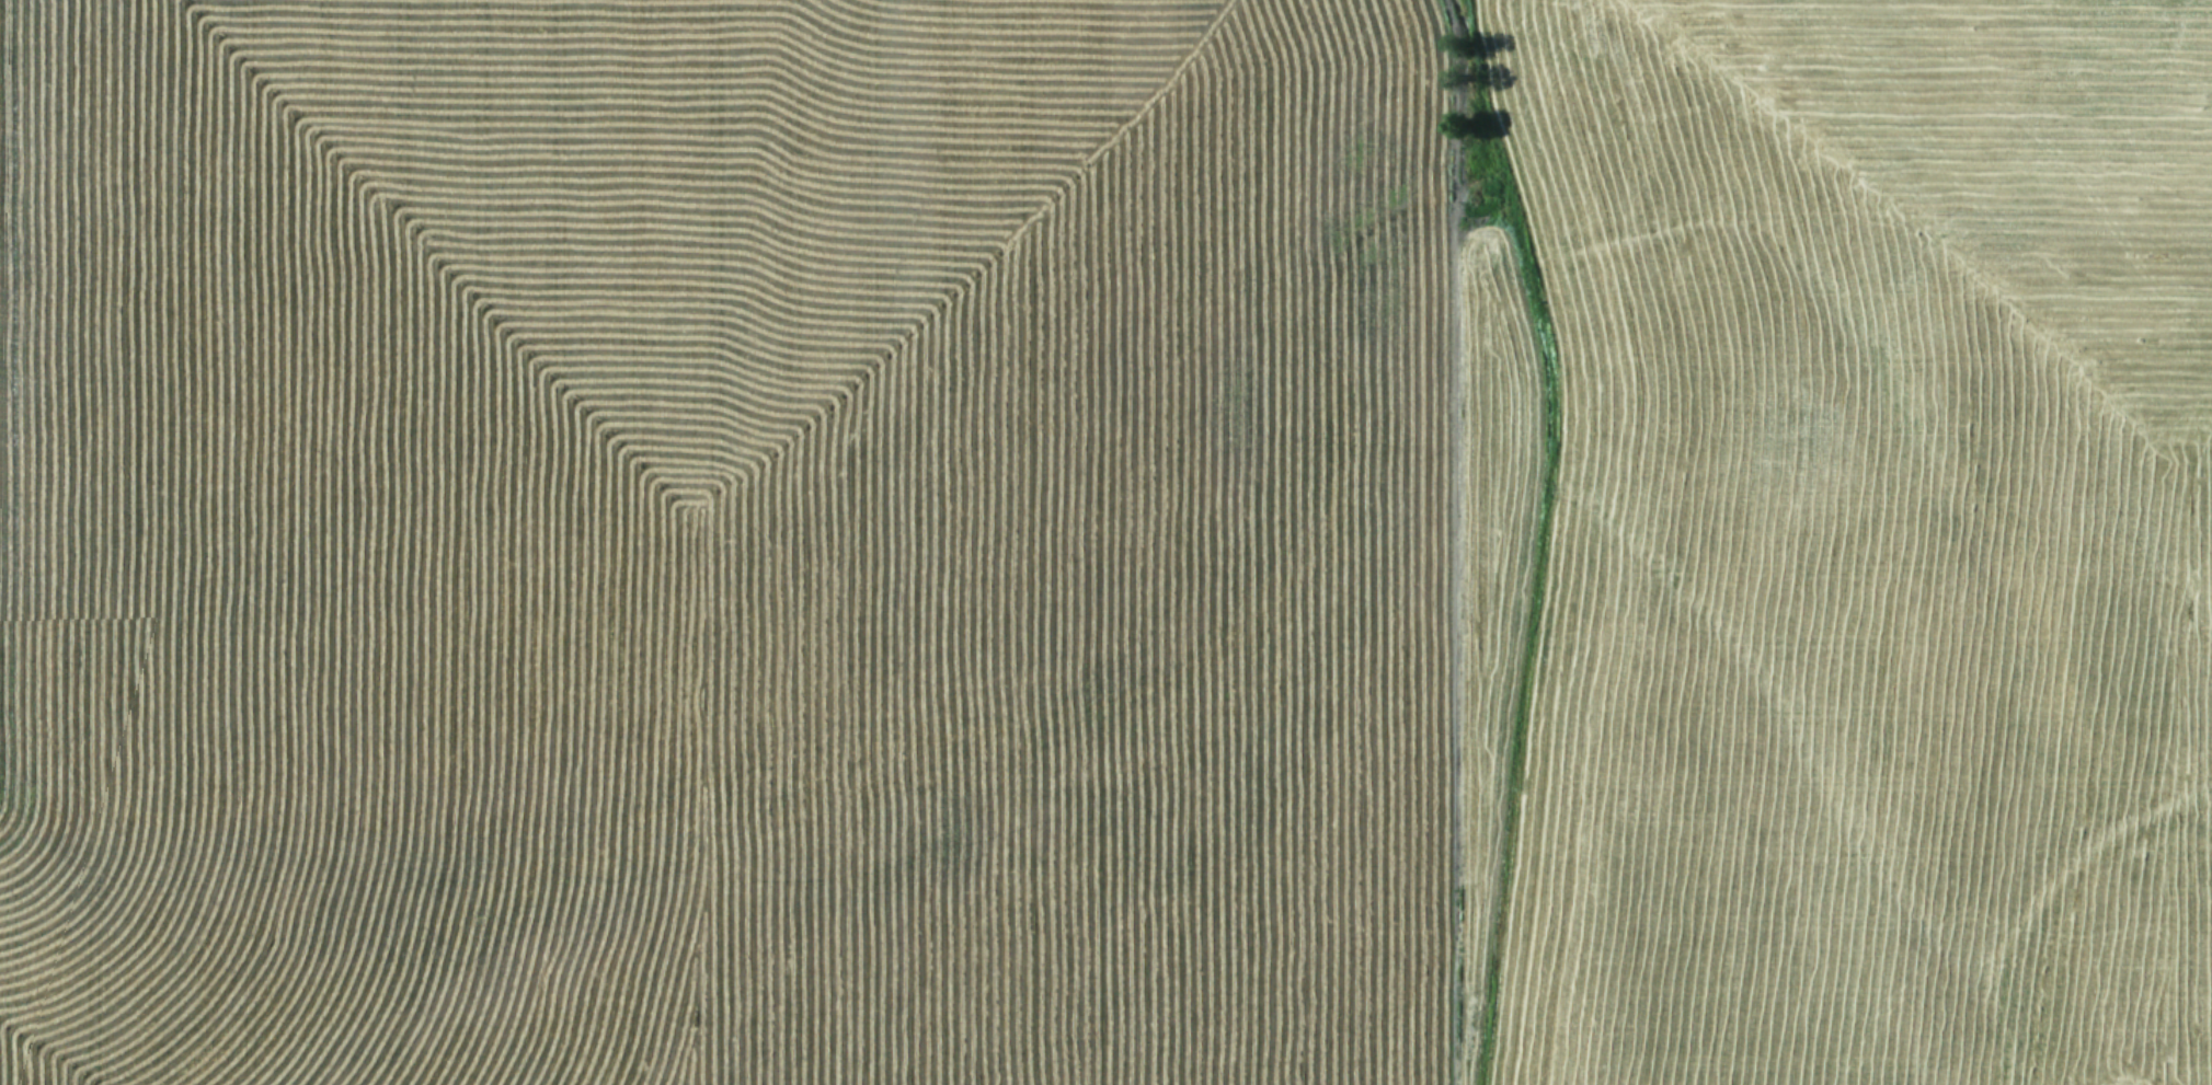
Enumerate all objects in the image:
crop: (1105, 542)
road: (843, 805)

